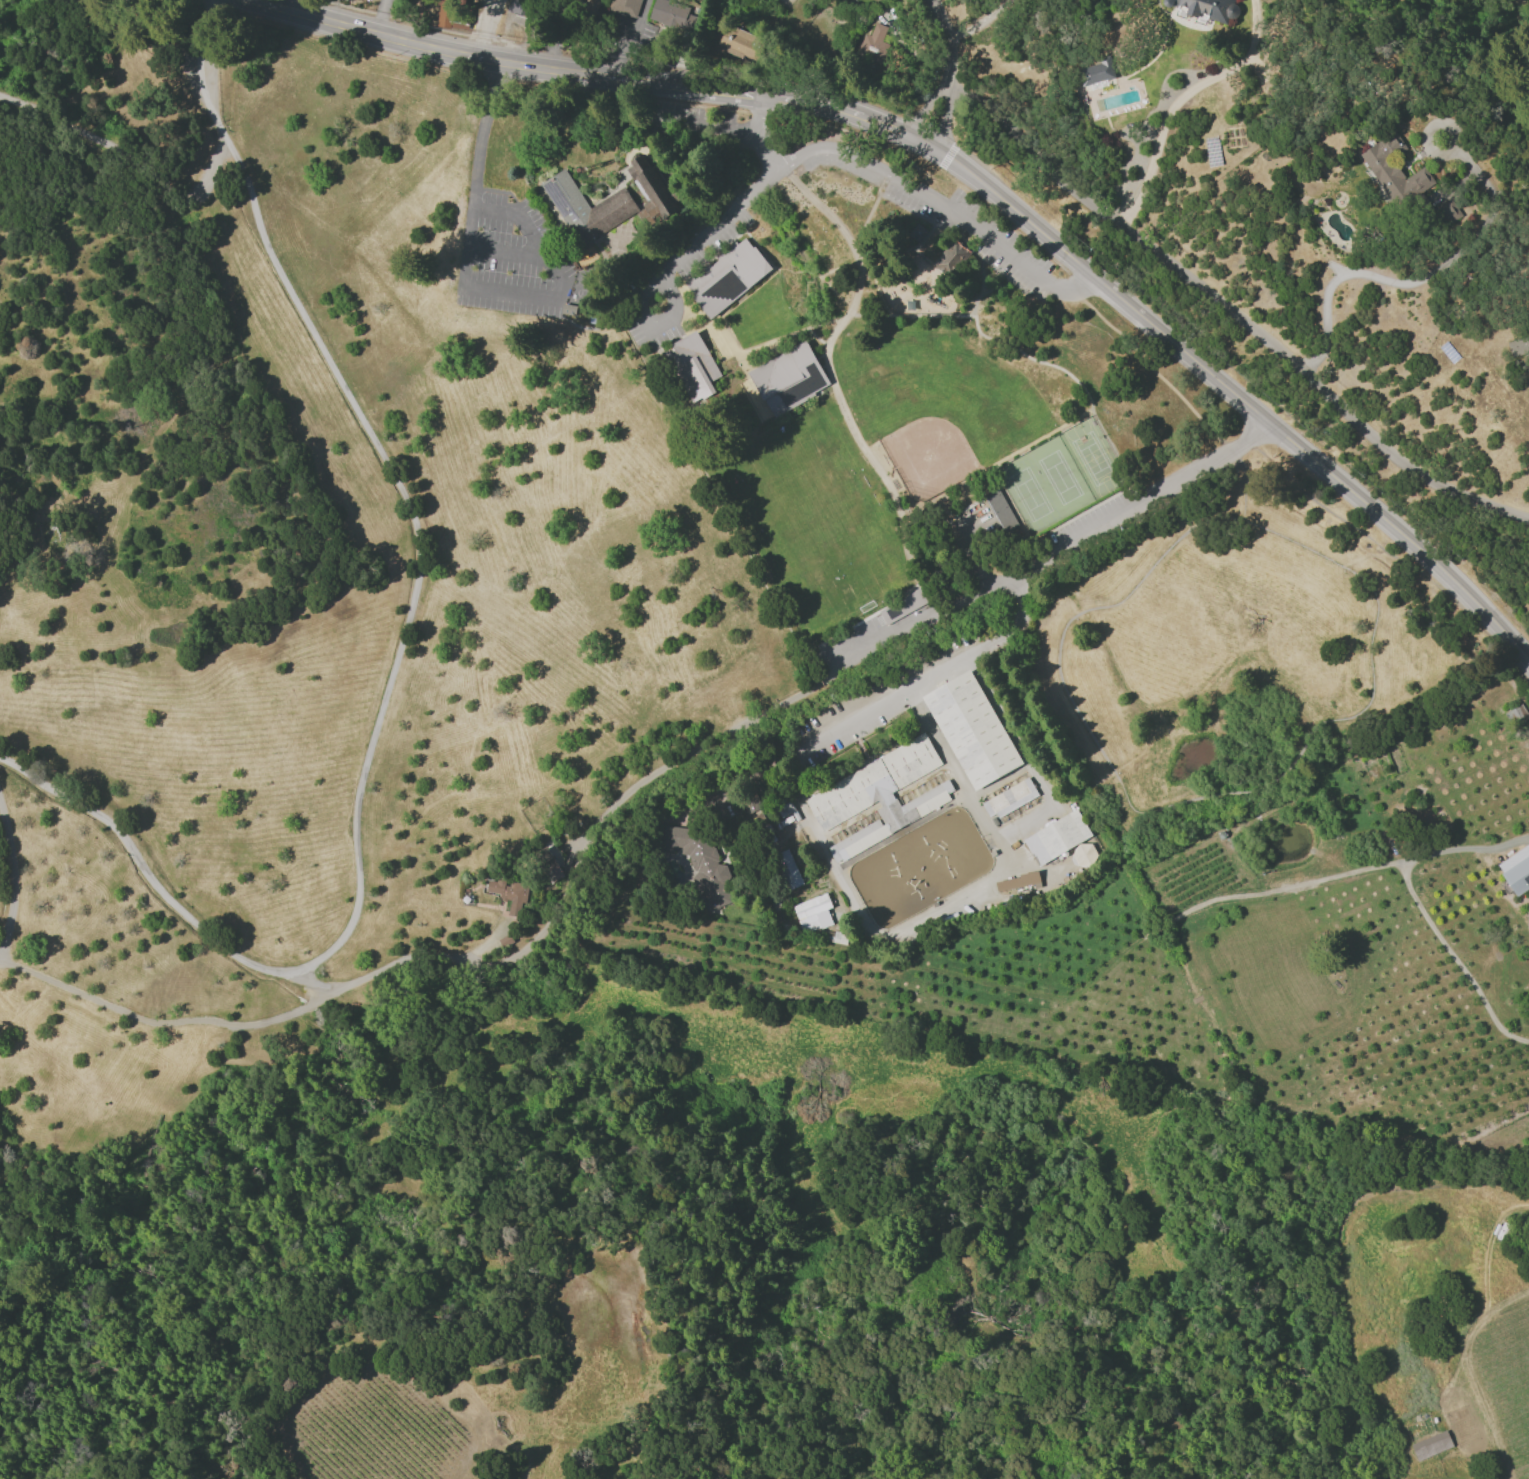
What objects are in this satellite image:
building: (592, 4)
building: (625, 6)
road: (299, 7)
building: (518, 7)
building: (1204, 8)
building: (672, 15)
road: (383, 18)
road: (979, 22)
road: (628, 36)
road: (945, 37)
building: (740, 42)
building: (873, 45)
building: (1096, 71)
road: (1178, 99)
road: (927, 104)
road: (943, 109)
road: (760, 133)
road: (858, 157)
road: (967, 168)
building: (1394, 170)
building: (651, 188)
building: (587, 207)
building: (1449, 211)
building: (917, 233)
building: (950, 258)
building: (727, 276)
road: (465, 281)
road: (1419, 282)
road: (1236, 314)
building: (1518, 344)
building: (692, 366)
building: (788, 378)
road: (1298, 488)
building: (1001, 510)
road: (1067, 540)
building: (902, 606)
crop: (327, 609)
road: (397, 665)
building: (1516, 714)
building: (971, 729)
building: (878, 795)
building: (1008, 798)
building: (749, 802)
building: (1056, 837)
building: (1082, 855)
building: (699, 862)
building: (547, 865)
road: (833, 865)
building: (786, 870)
building: (1516, 870)
building: (1016, 881)
road: (11, 882)
building: (509, 893)
road: (1420, 909)
building: (812, 913)
crop: (1254, 957)
road: (405, 958)
road: (173, 1022)
crop: (387, 1434)
building: (1431, 1445)

